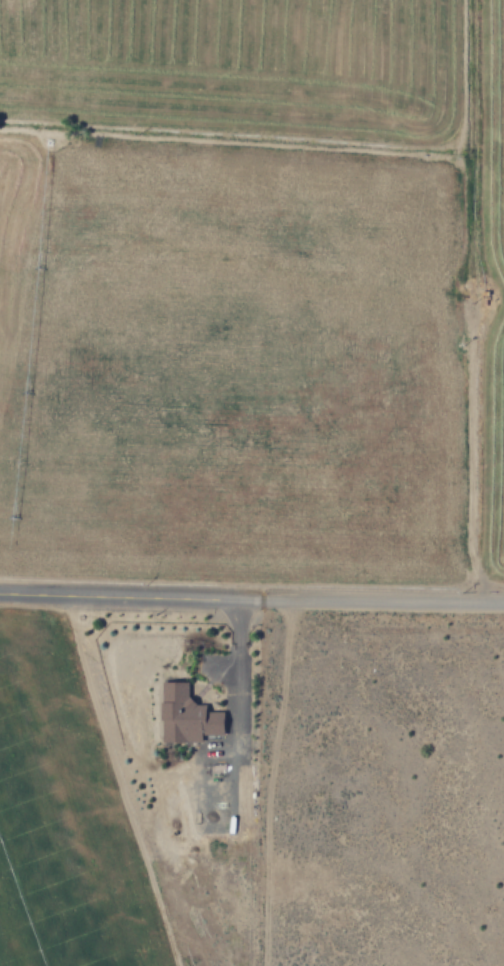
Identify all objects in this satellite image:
road: (110, 591)
road: (362, 594)
building: (184, 715)

